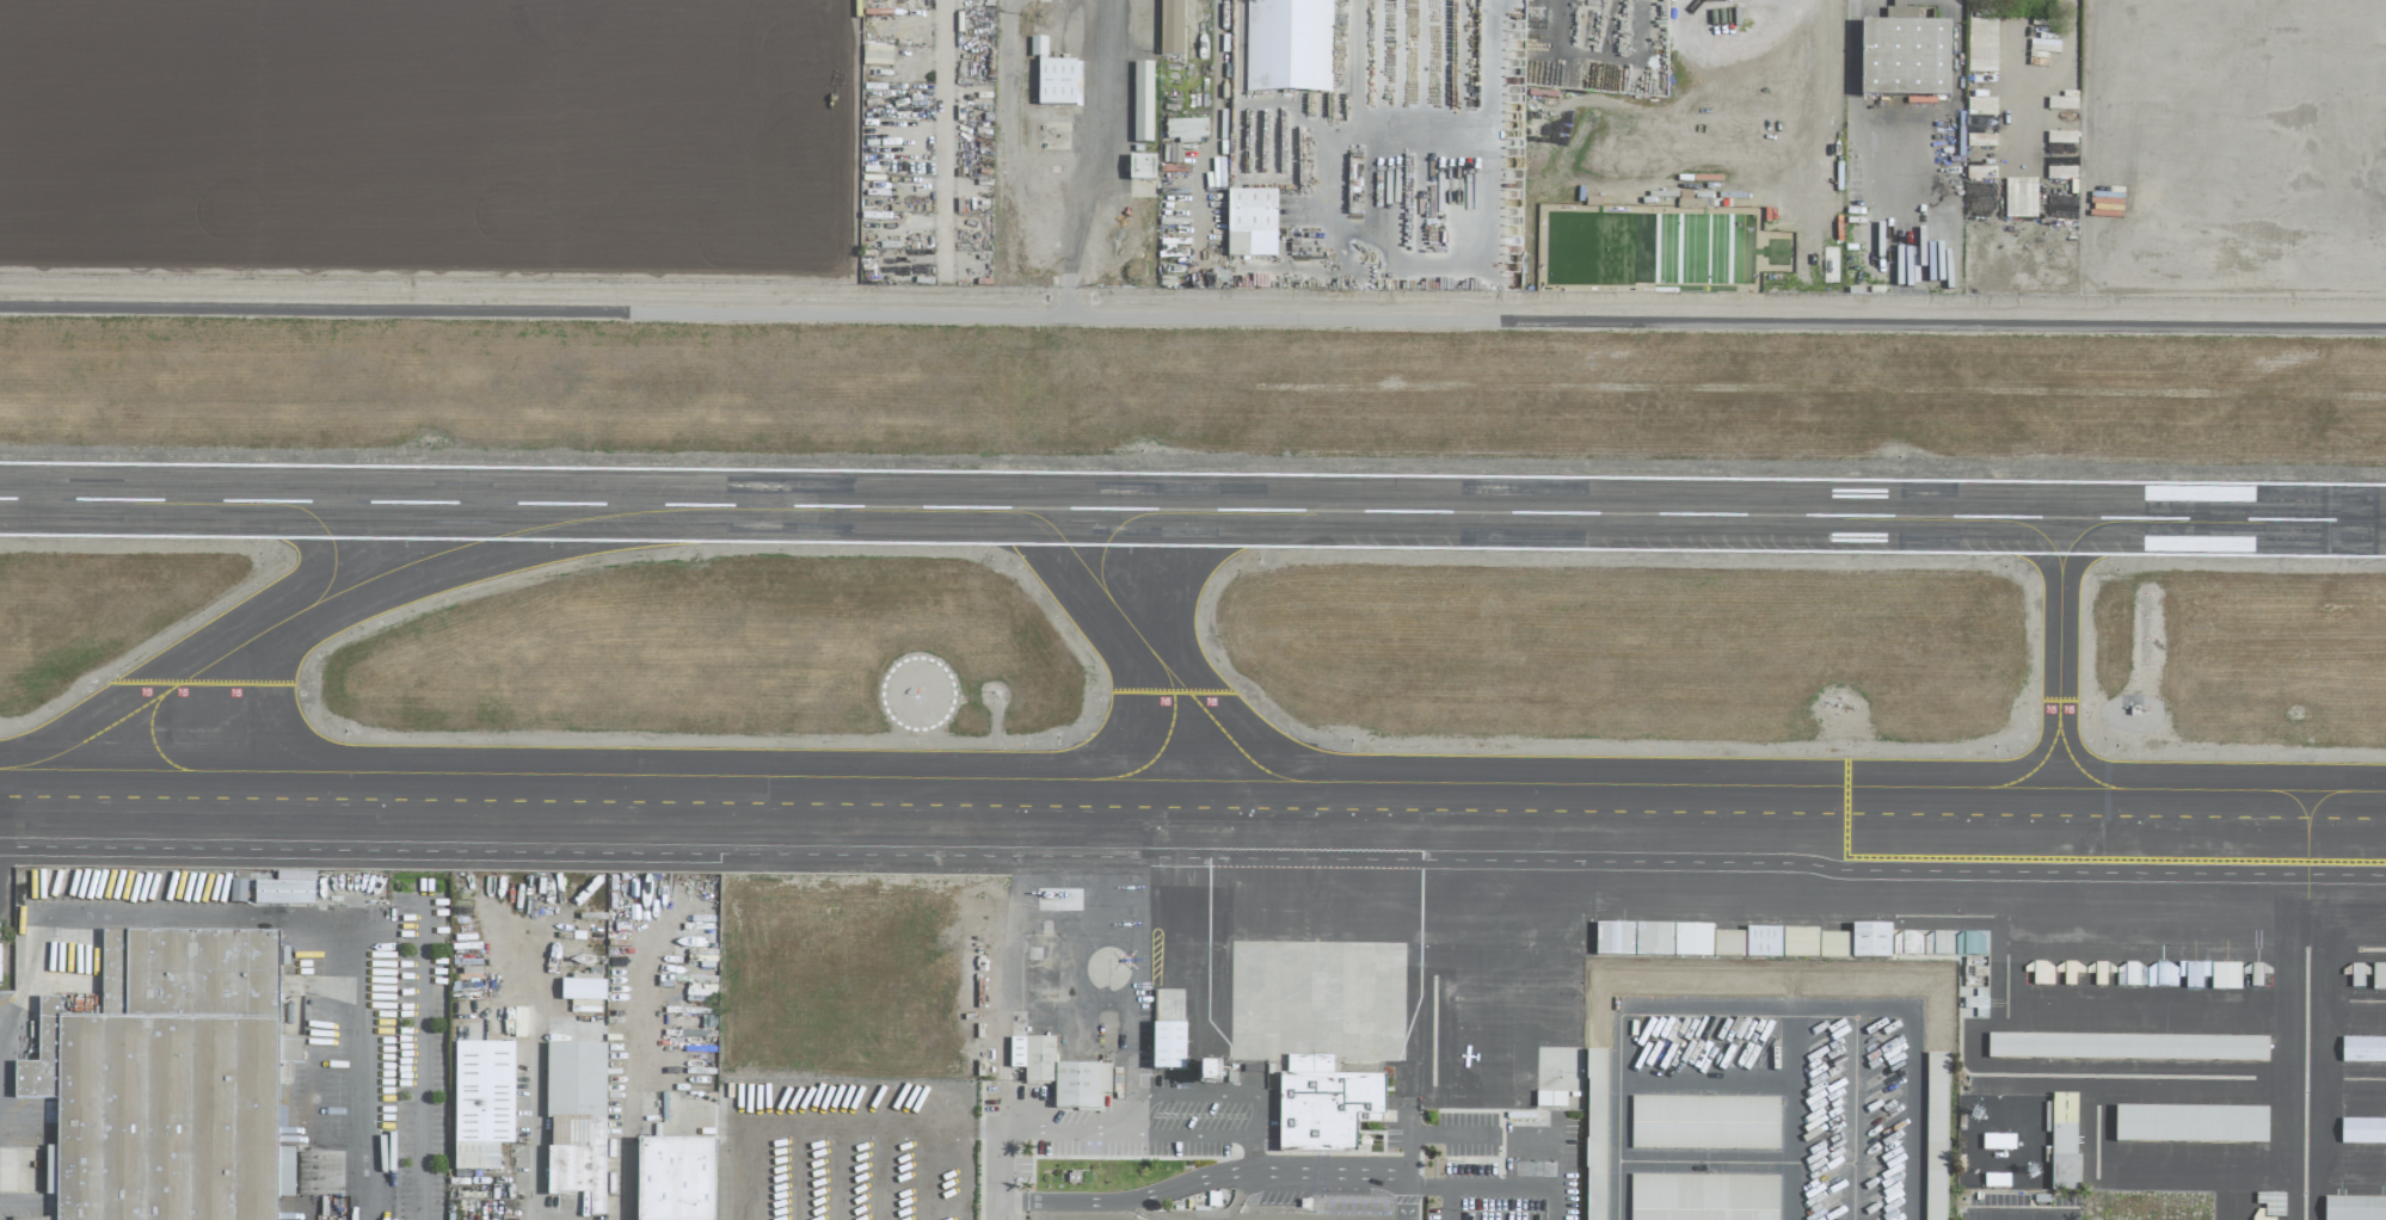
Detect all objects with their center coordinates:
building: (1170, 27)
road: (1855, 43)
building: (1981, 43)
building: (1287, 45)
building: (1038, 48)
building: (1905, 55)
building: (877, 56)
road: (1112, 69)
building: (1056, 82)
building: (1142, 103)
building: (1981, 107)
building: (1186, 130)
building: (1140, 168)
helipad: (1908, 197)
building: (2019, 198)
building: (1250, 223)
road: (1400, 270)
road: (1192, 316)
airport runway: (1193, 472)
airport runway: (1193, 507)
airport taxiway: (2040, 532)
airport taxiway: (1112, 536)
airport runway: (1193, 547)
airport taxiway: (352, 586)
airport taxiway: (1083, 635)
airport taxiway: (1144, 641)
airport taxiway: (2064, 651)
airport: (1292, 676)
airport taxiway: (257, 723)
airport taxiway: (1170, 739)
airport taxiway: (2081, 766)
airport taxiway: (1193, 781)
airport taxiway: (1192, 850)
building: (285, 889)
building: (236, 892)
road: (269, 920)
building: (1653, 939)
building: (1870, 942)
building: (1763, 943)
building: (1968, 943)
building: (1728, 944)
building: (1815, 944)
building: (5, 963)
building: (2099, 974)
building: (2161, 974)
building: (2193, 974)
building: (2130, 975)
building: (2225, 976)
building: (2378, 976)
building: (582, 991)
road: (1687, 997)
airport apron: (1297, 1005)
building: (1168, 1047)
road: (1914, 1049)
building: (2132, 1049)
building: (2363, 1052)
road: (535, 1059)
road: (420, 1061)
building: (1059, 1074)
building: (1209, 1074)
building: (167, 1082)
building: (1363, 1095)
building: (1550, 1099)
road: (1254, 1103)
building: (481, 1104)
road: (1790, 1109)
airport terminal: (1330, 1110)
road: (1853, 1110)
building: (576, 1121)
road: (625, 1125)
building: (1707, 1125)
road: (1617, 1127)
building: (2193, 1127)
road: (1062, 1129)
road: (1428, 1133)
building: (1595, 1134)
building: (2363, 1134)
building: (1937, 1138)
building: (1998, 1142)
building: (2064, 1142)
road: (1000, 1144)
road: (1223, 1176)
building: (675, 1179)
road: (1511, 1185)
road: (1246, 1197)
building: (1707, 1199)
road: (1444, 1202)
road: (1557, 1203)
building: (2271, 1203)
building: (2355, 1209)
road: (998, 1210)
parking lot: (1354, 1210)
road: (1146, 1214)
parking lot: (1082, 1216)
road: (2018, 1216)

